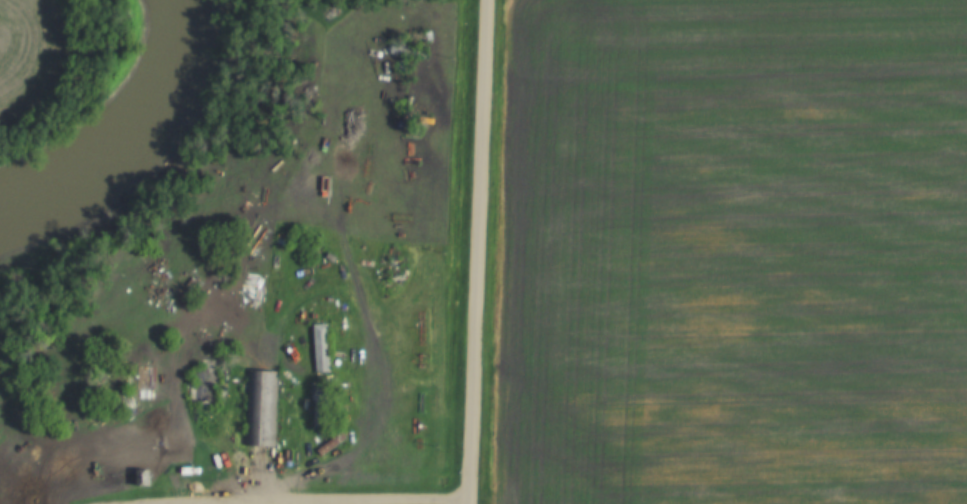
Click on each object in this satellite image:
river: (121, 133)
road: (479, 252)
crop: (737, 253)
building: (320, 346)
building: (260, 407)
road: (309, 501)

